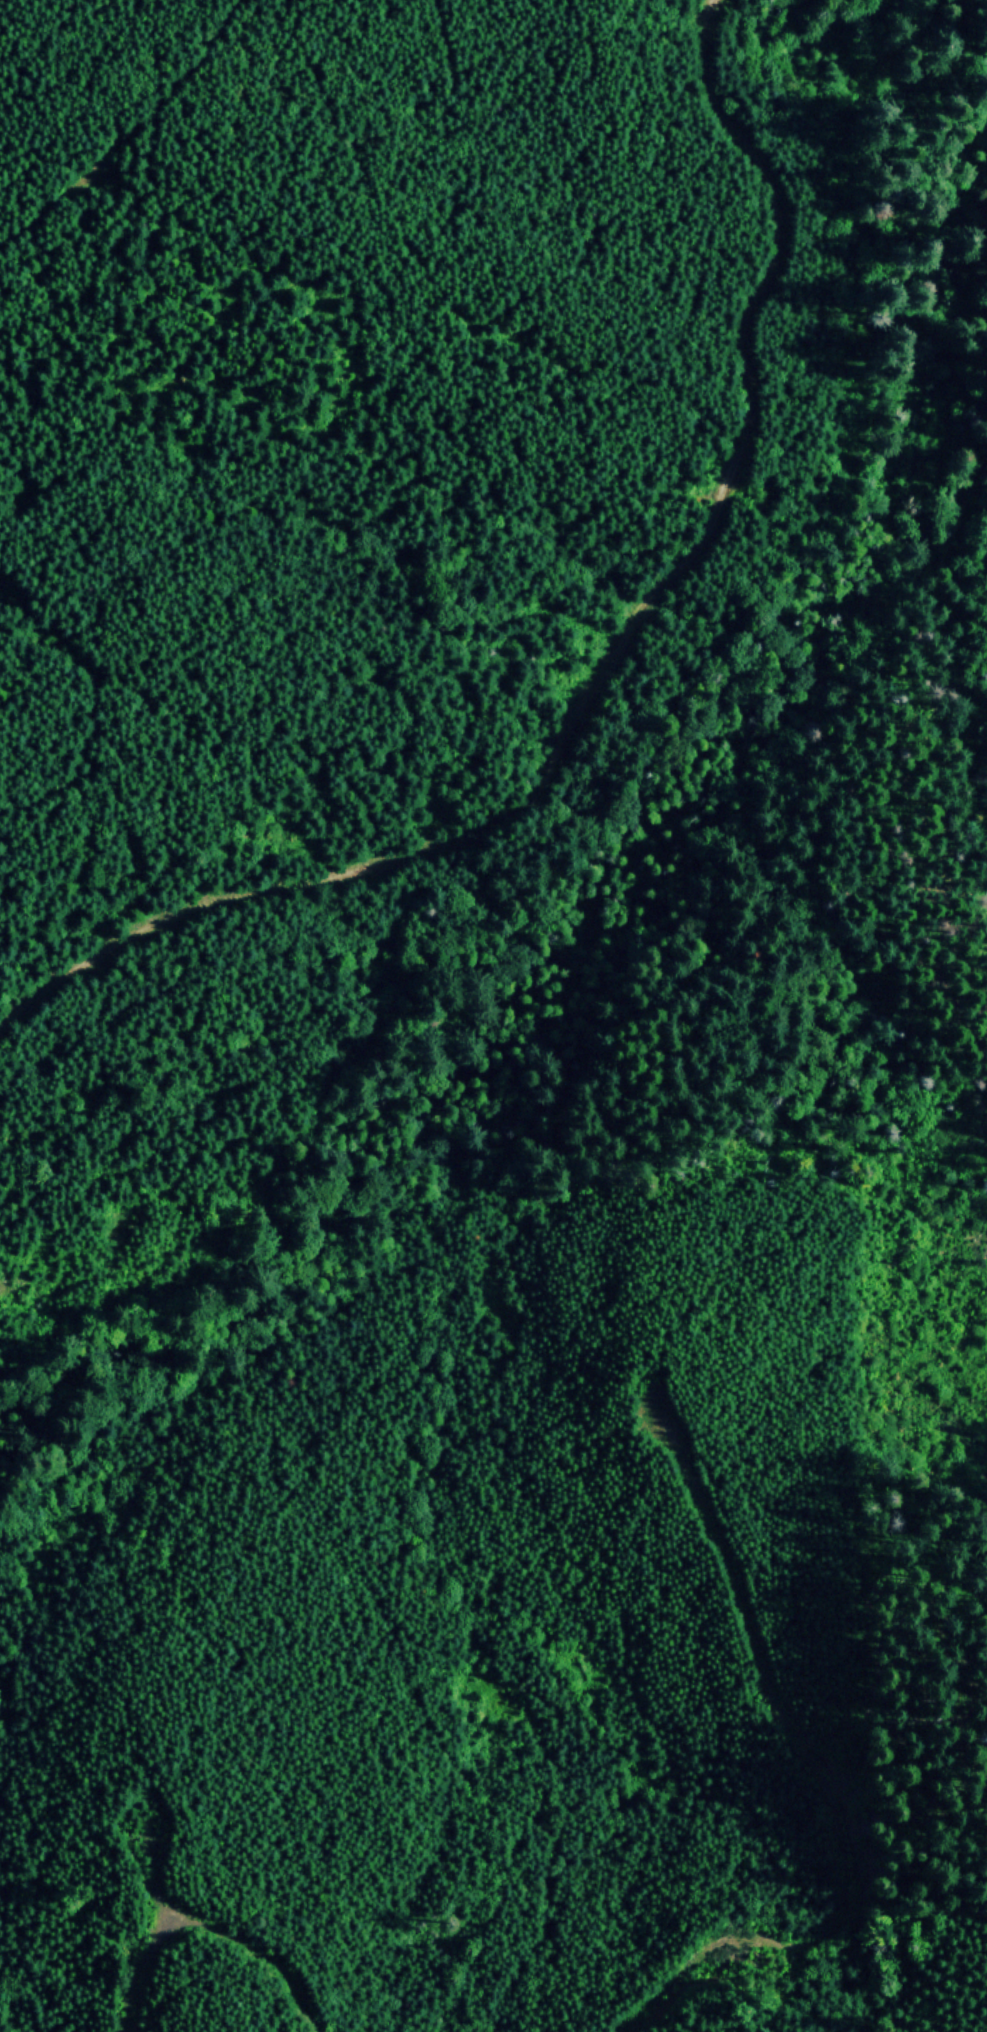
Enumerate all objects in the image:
road: (716, 9)
road: (596, 675)
road: (813, 1769)
road: (208, 1931)

